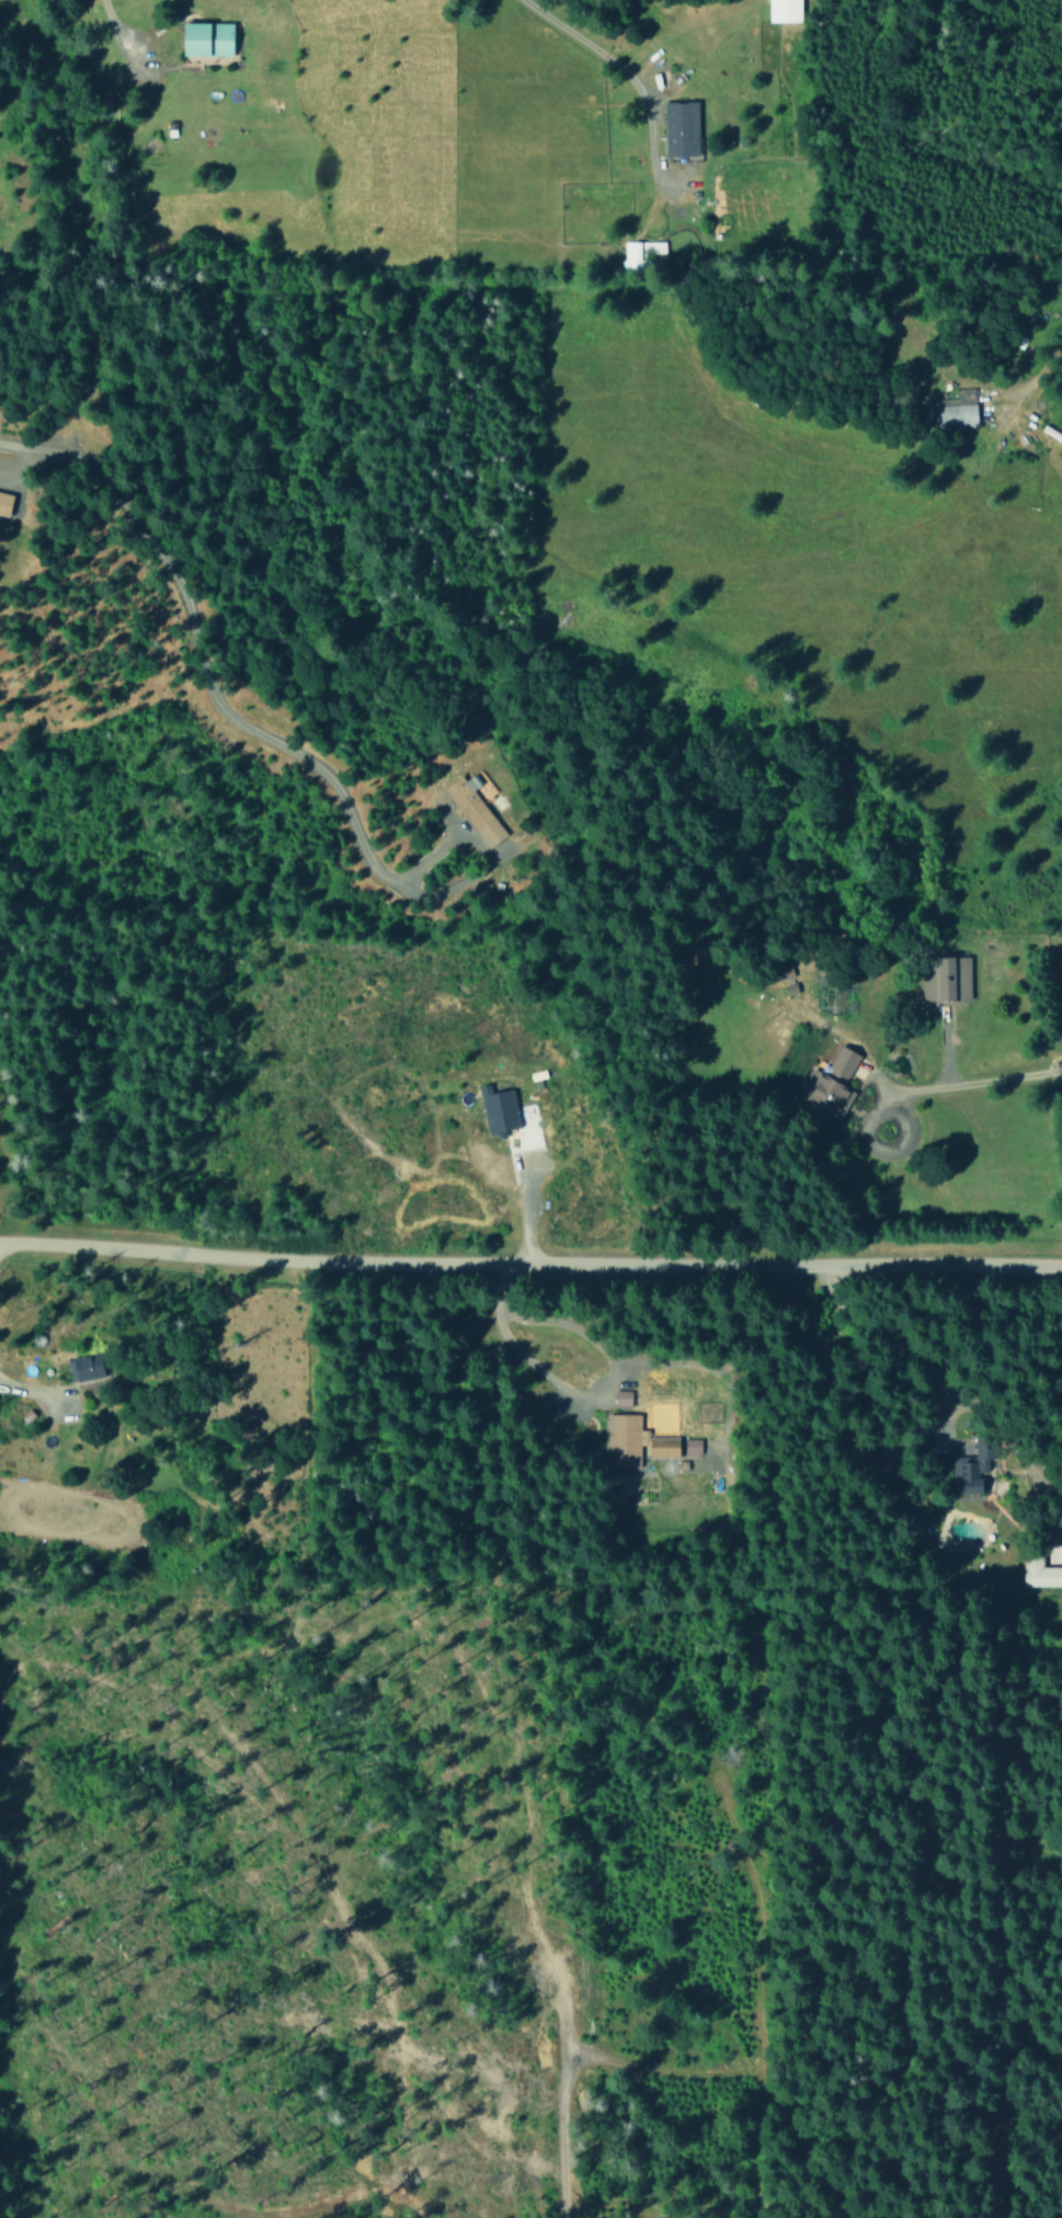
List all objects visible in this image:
building: (784, 10)
building: (208, 38)
road: (627, 79)
building: (682, 129)
building: (640, 251)
building: (957, 411)
building: (4, 502)
building: (475, 809)
building: (946, 977)
building: (831, 1084)
road: (913, 1094)
building: (499, 1109)
road: (0, 1250)
road: (530, 1265)
building: (84, 1367)
building: (623, 1397)
road: (12, 1438)
building: (623, 1440)
building: (675, 1447)
building: (972, 1466)
building: (1038, 1570)

